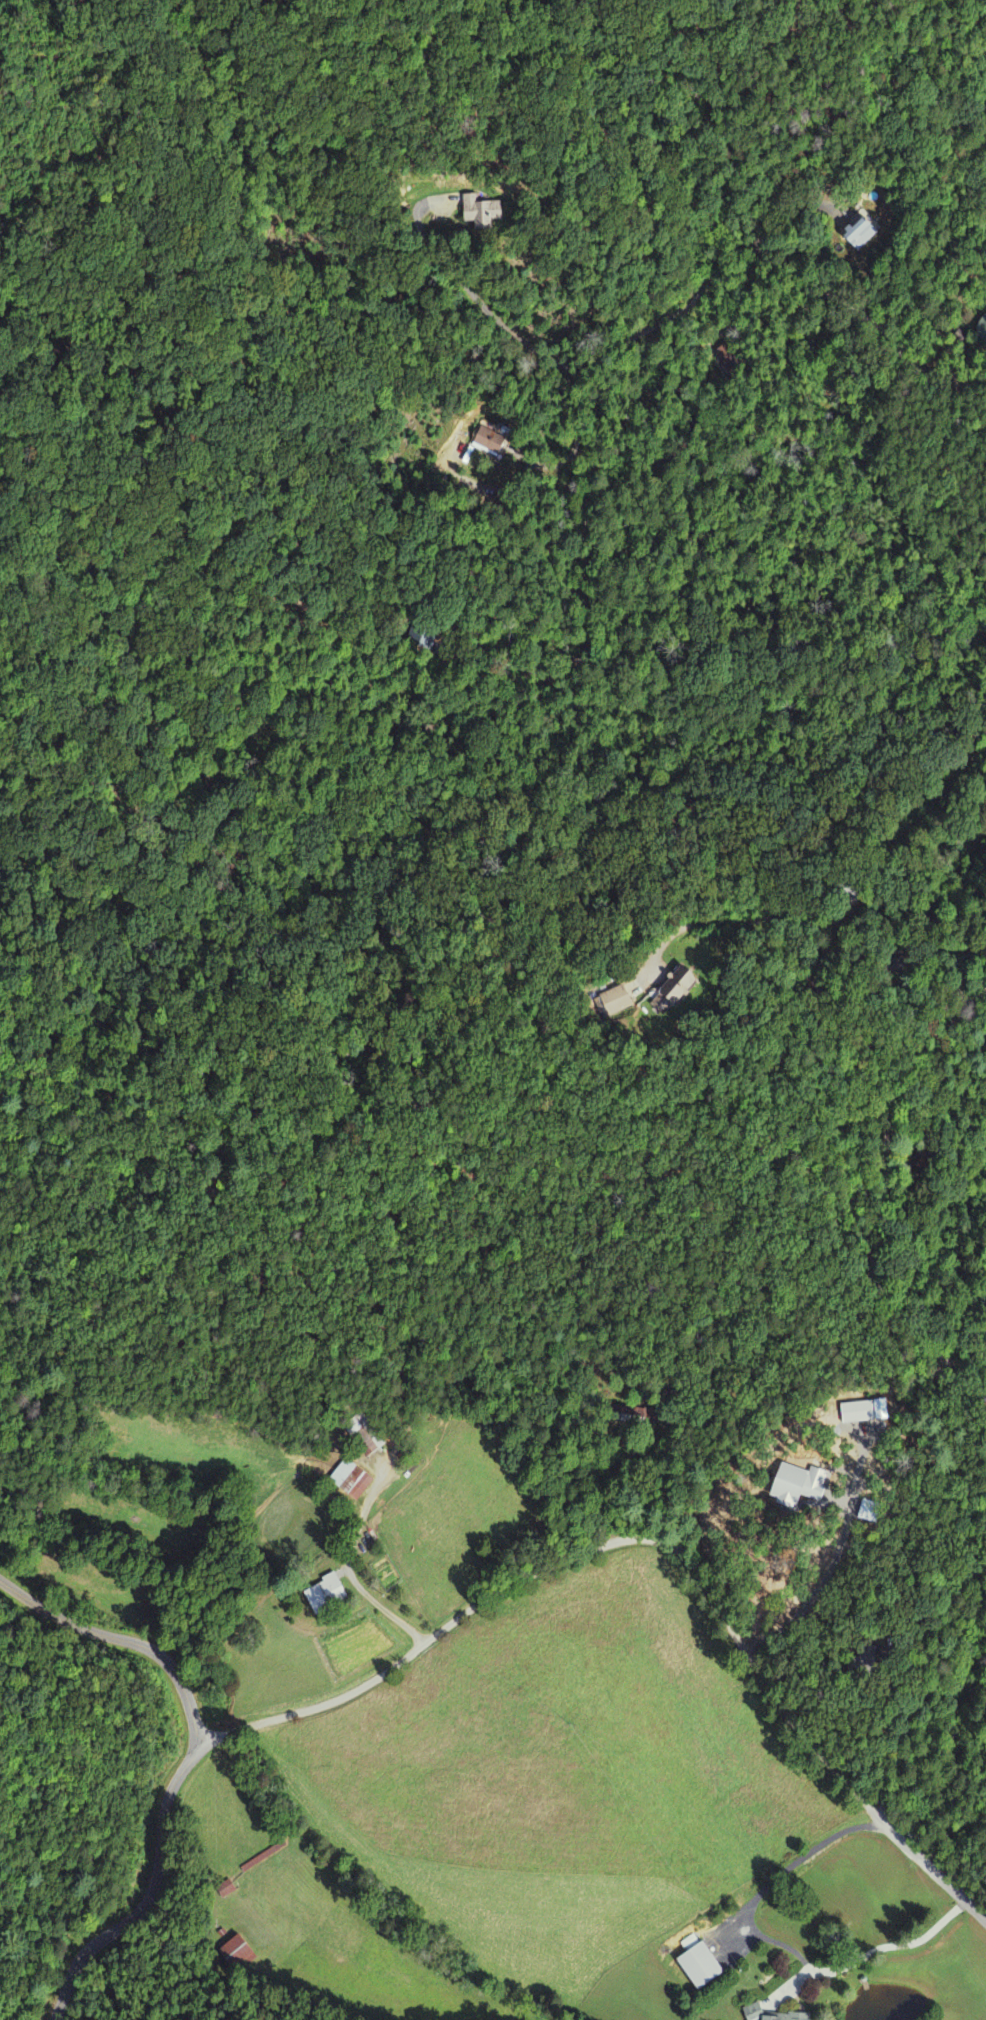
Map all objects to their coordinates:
building: (489, 214)
building: (859, 234)
road: (596, 359)
building: (488, 442)
road: (819, 950)
building: (672, 994)
building: (614, 1002)
road: (885, 1193)
building: (857, 1413)
building: (351, 1481)
building: (798, 1486)
road: (360, 1581)
road: (506, 1586)
building: (322, 1593)
road: (126, 1639)
building: (225, 1890)
building: (236, 1952)
building: (695, 1967)
building: (752, 2010)

